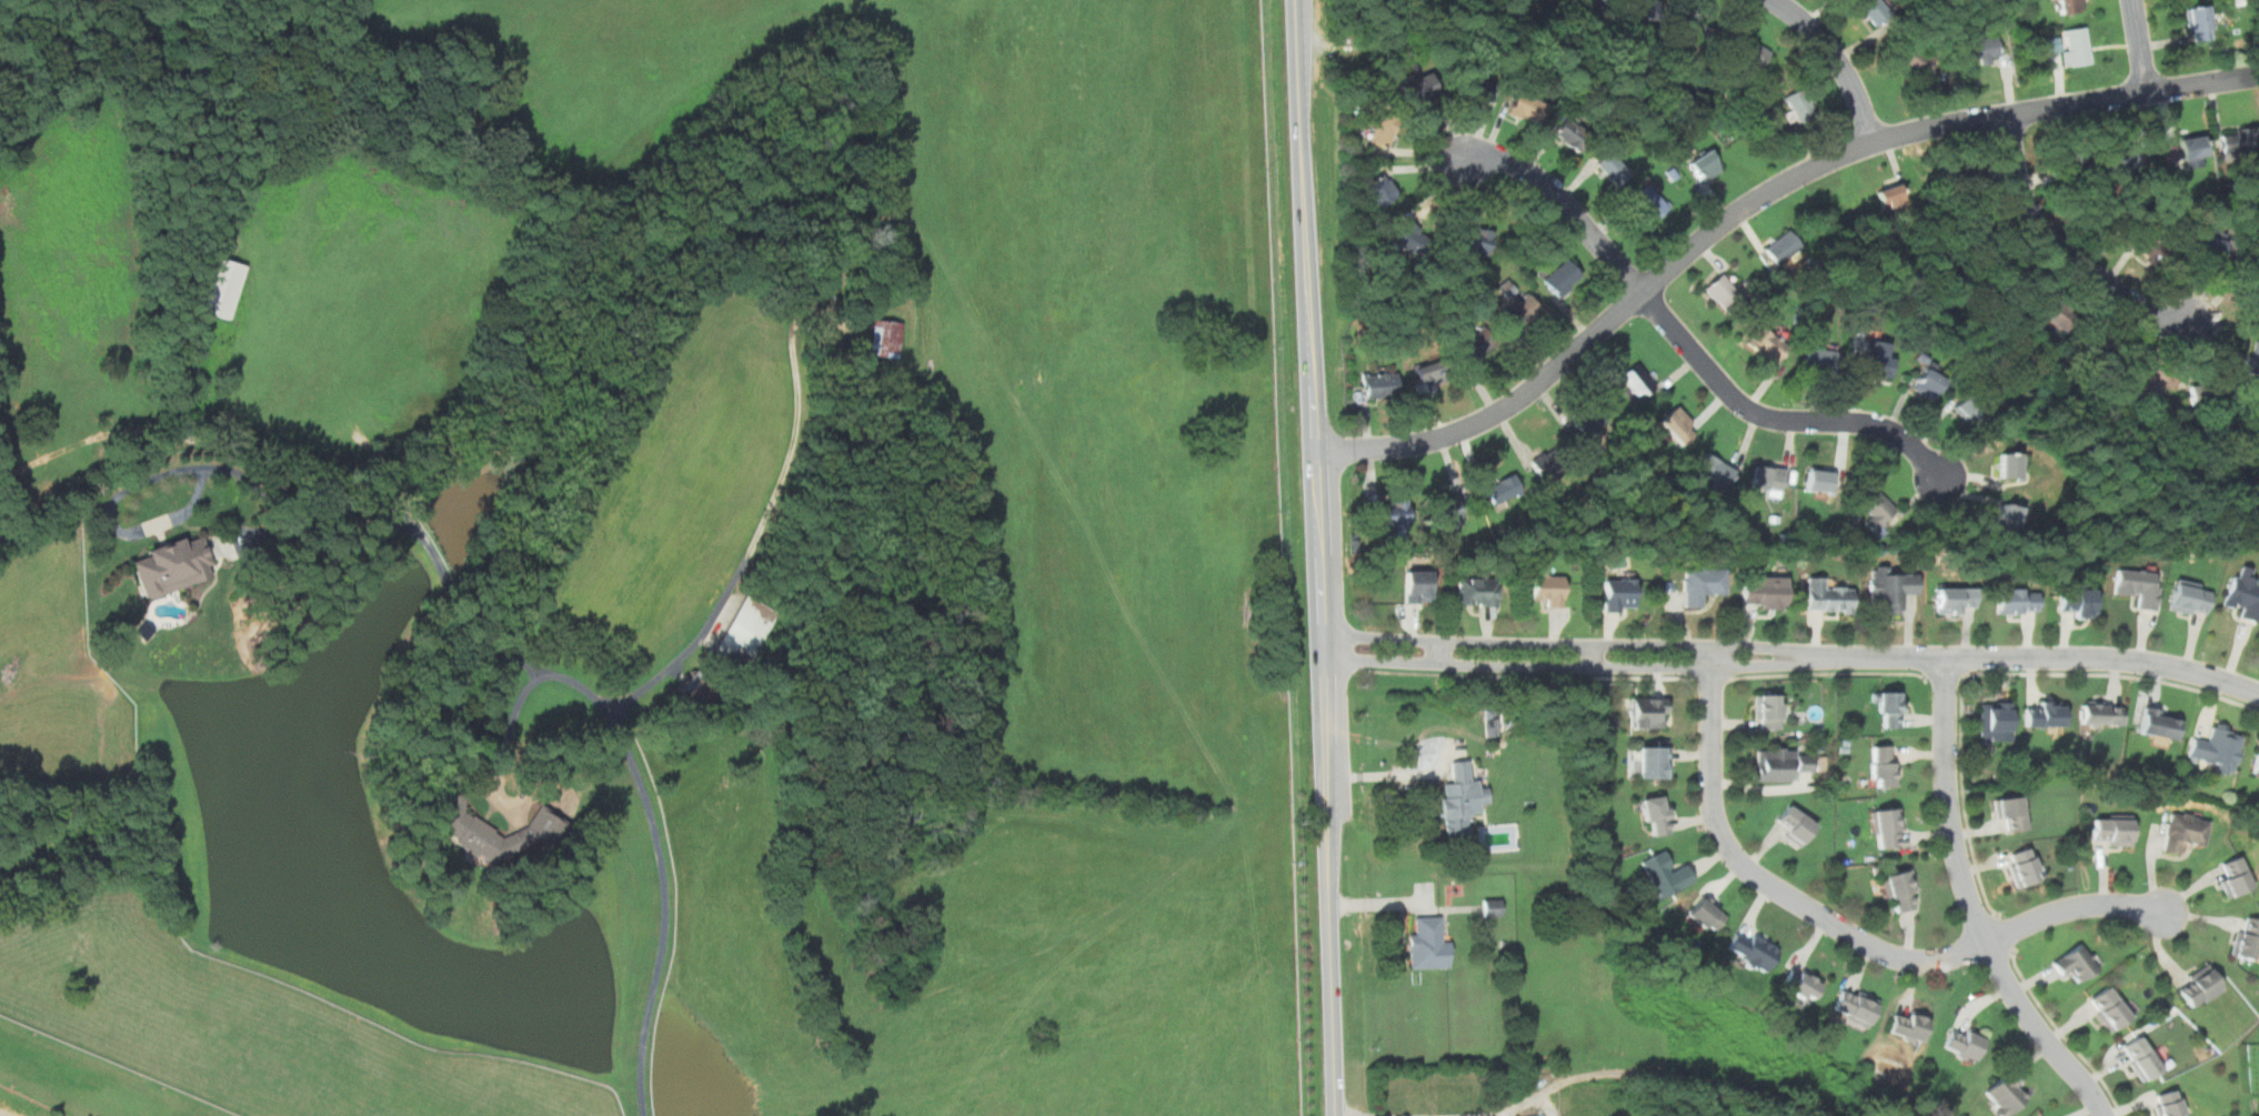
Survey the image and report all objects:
building: (1603, 0)
building: (2070, 6)
building: (1648, 9)
building: (1875, 10)
building: (2200, 22)
building: (1698, 30)
building: (1985, 46)
building: (2069, 46)
road: (2137, 46)
building: (1749, 50)
road: (1839, 58)
building: (1916, 60)
road: (2199, 82)
building: (1419, 88)
building: (1479, 88)
building: (1798, 104)
building: (1528, 105)
building: (1382, 132)
building: (1572, 133)
building: (2240, 140)
building: (2182, 151)
building: (2121, 155)
building: (2069, 159)
building: (1705, 165)
building: (1614, 168)
building: (1960, 178)
building: (1380, 190)
building: (1892, 197)
road: (1558, 201)
building: (1650, 202)
building: (1978, 233)
road: (1709, 235)
building: (1412, 237)
building: (1475, 239)
building: (2147, 245)
building: (1784, 247)
building: (2210, 249)
road: (2068, 258)
building: (2001, 273)
building: (2253, 278)
building: (1564, 279)
building: (223, 288)
building: (1723, 290)
building: (1523, 309)
building: (2056, 312)
road: (1313, 323)
building: (886, 338)
building: (2100, 341)
building: (1476, 343)
building: (1769, 343)
building: (832, 348)
building: (1819, 359)
building: (1876, 360)
building: (2253, 360)
building: (1429, 372)
building: (2149, 379)
building: (1637, 381)
building: (1928, 383)
building: (1379, 385)
building: (2205, 393)
building: (1968, 409)
building: (1588, 419)
road: (1779, 421)
building: (1678, 424)
building: (1545, 465)
building: (2009, 466)
building: (1714, 470)
building: (1768, 480)
building: (1819, 480)
building: (1503, 489)
building: (1877, 509)
building: (1448, 510)
building: (1393, 515)
building: (2007, 517)
building: (245, 537)
road: (756, 541)
airport: (642, 560)
building: (173, 566)
building: (1703, 583)
building: (2138, 585)
building: (1417, 587)
building: (1548, 587)
building: (1889, 589)
building: (1763, 590)
building: (1477, 591)
building: (2243, 593)
building: (1619, 595)
building: (1828, 596)
building: (2190, 597)
building: (1956, 600)
building: (2017, 601)
building: (2078, 601)
building: (745, 633)
road: (1341, 649)
road: (1809, 658)
road: (1828, 672)
road: (1947, 674)
road: (2116, 674)
road: (1529, 675)
road: (1707, 678)
building: (696, 691)
road: (591, 700)
road: (519, 705)
building: (1889, 710)
building: (1768, 711)
building: (1648, 712)
building: (2045, 713)
building: (2101, 713)
building: (1995, 722)
building: (2159, 722)
building: (2217, 747)
building: (1654, 761)
building: (1781, 763)
building: (2256, 764)
building: (1884, 765)
road: (1384, 775)
building: (1462, 797)
road: (1962, 797)
building: (2011, 813)
building: (1656, 815)
building: (1796, 824)
building: (1887, 827)
building: (469, 828)
building: (2112, 828)
building: (2185, 832)
building: (2022, 866)
building: (1665, 874)
building: (2236, 877)
road: (1332, 882)
building: (1900, 891)
building: (1493, 906)
road: (1972, 907)
building: (1706, 914)
road: (2006, 933)
road: (1853, 934)
building: (2248, 938)
building: (1427, 945)
building: (1750, 951)
building: (2076, 963)
building: (1801, 982)
building: (2198, 986)
building: (1854, 1006)
building: (2110, 1007)
building: (1907, 1026)
road: (2065, 1035)
building: (1965, 1044)
building: (2141, 1058)
airport runway: (82, 1080)
building: (2004, 1093)
building: (2170, 1104)
road: (1359, 1114)
road: (1500, 1114)

